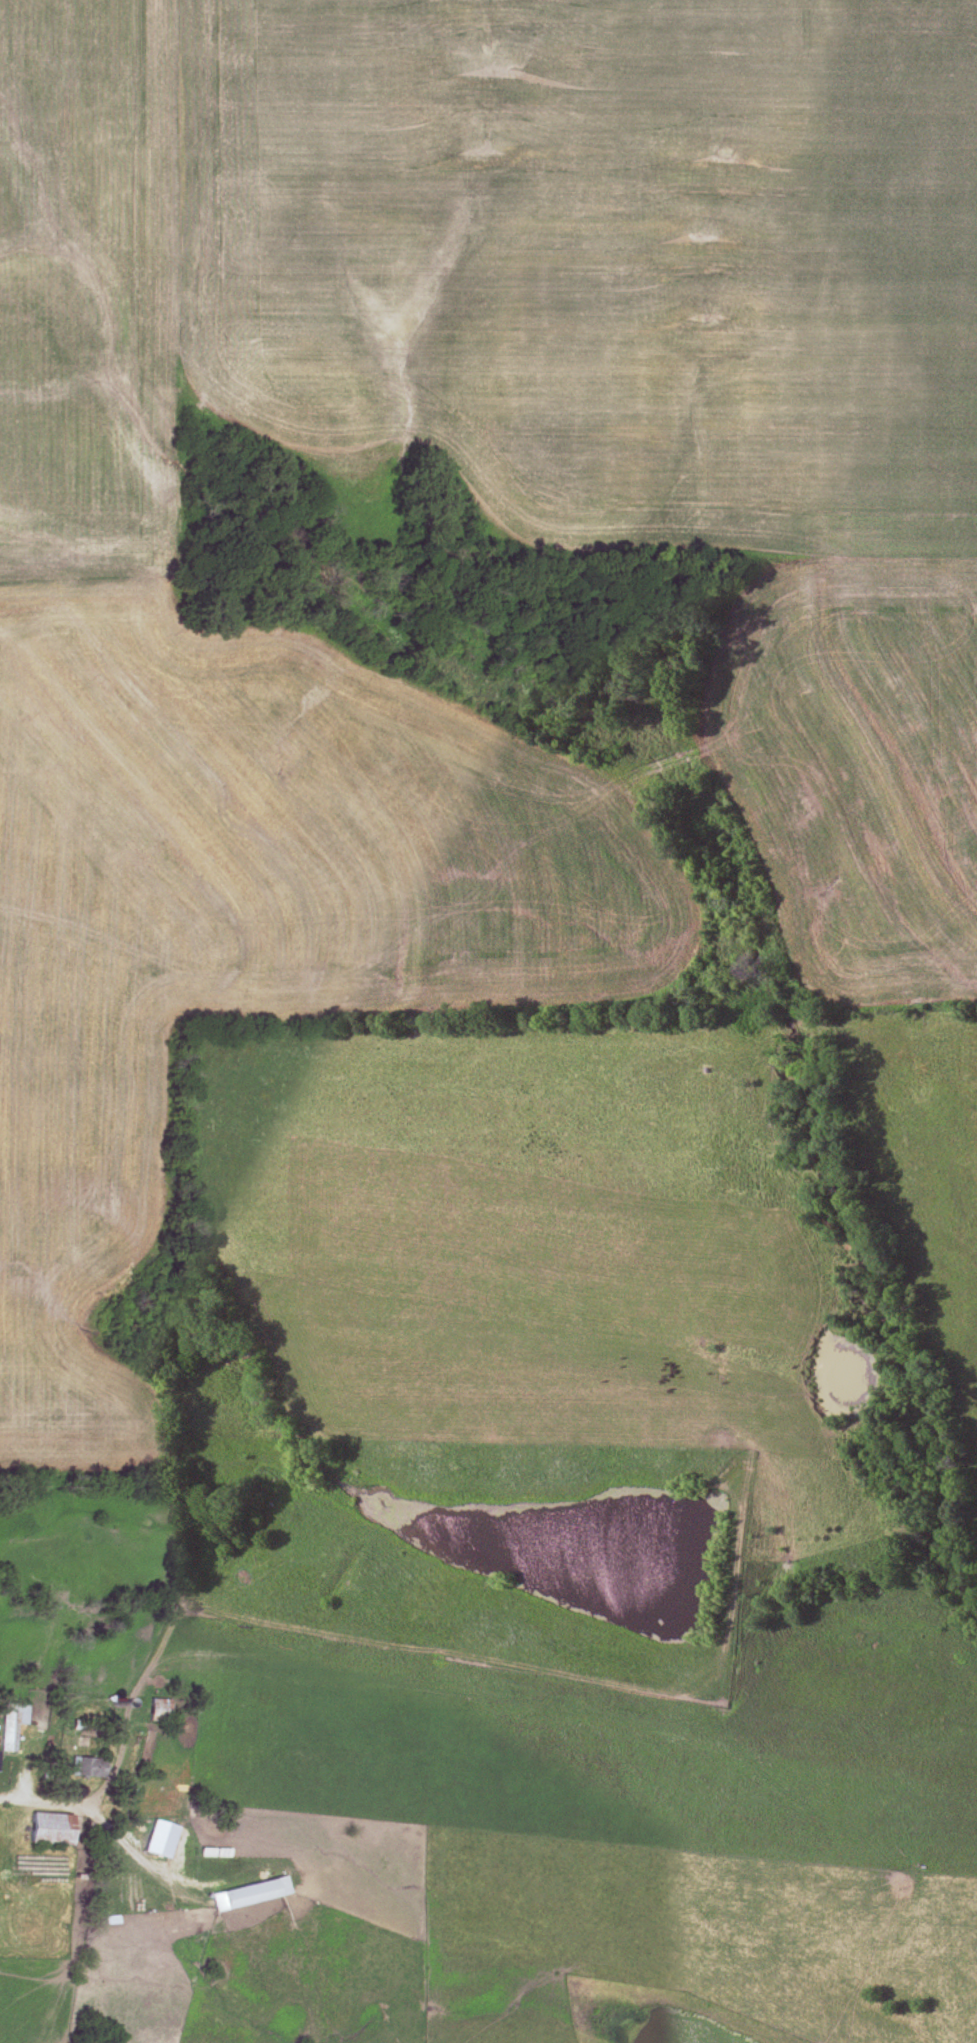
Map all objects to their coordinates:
building: (160, 1709)
building: (12, 1723)
building: (90, 1766)
road: (93, 1780)
building: (52, 1828)

